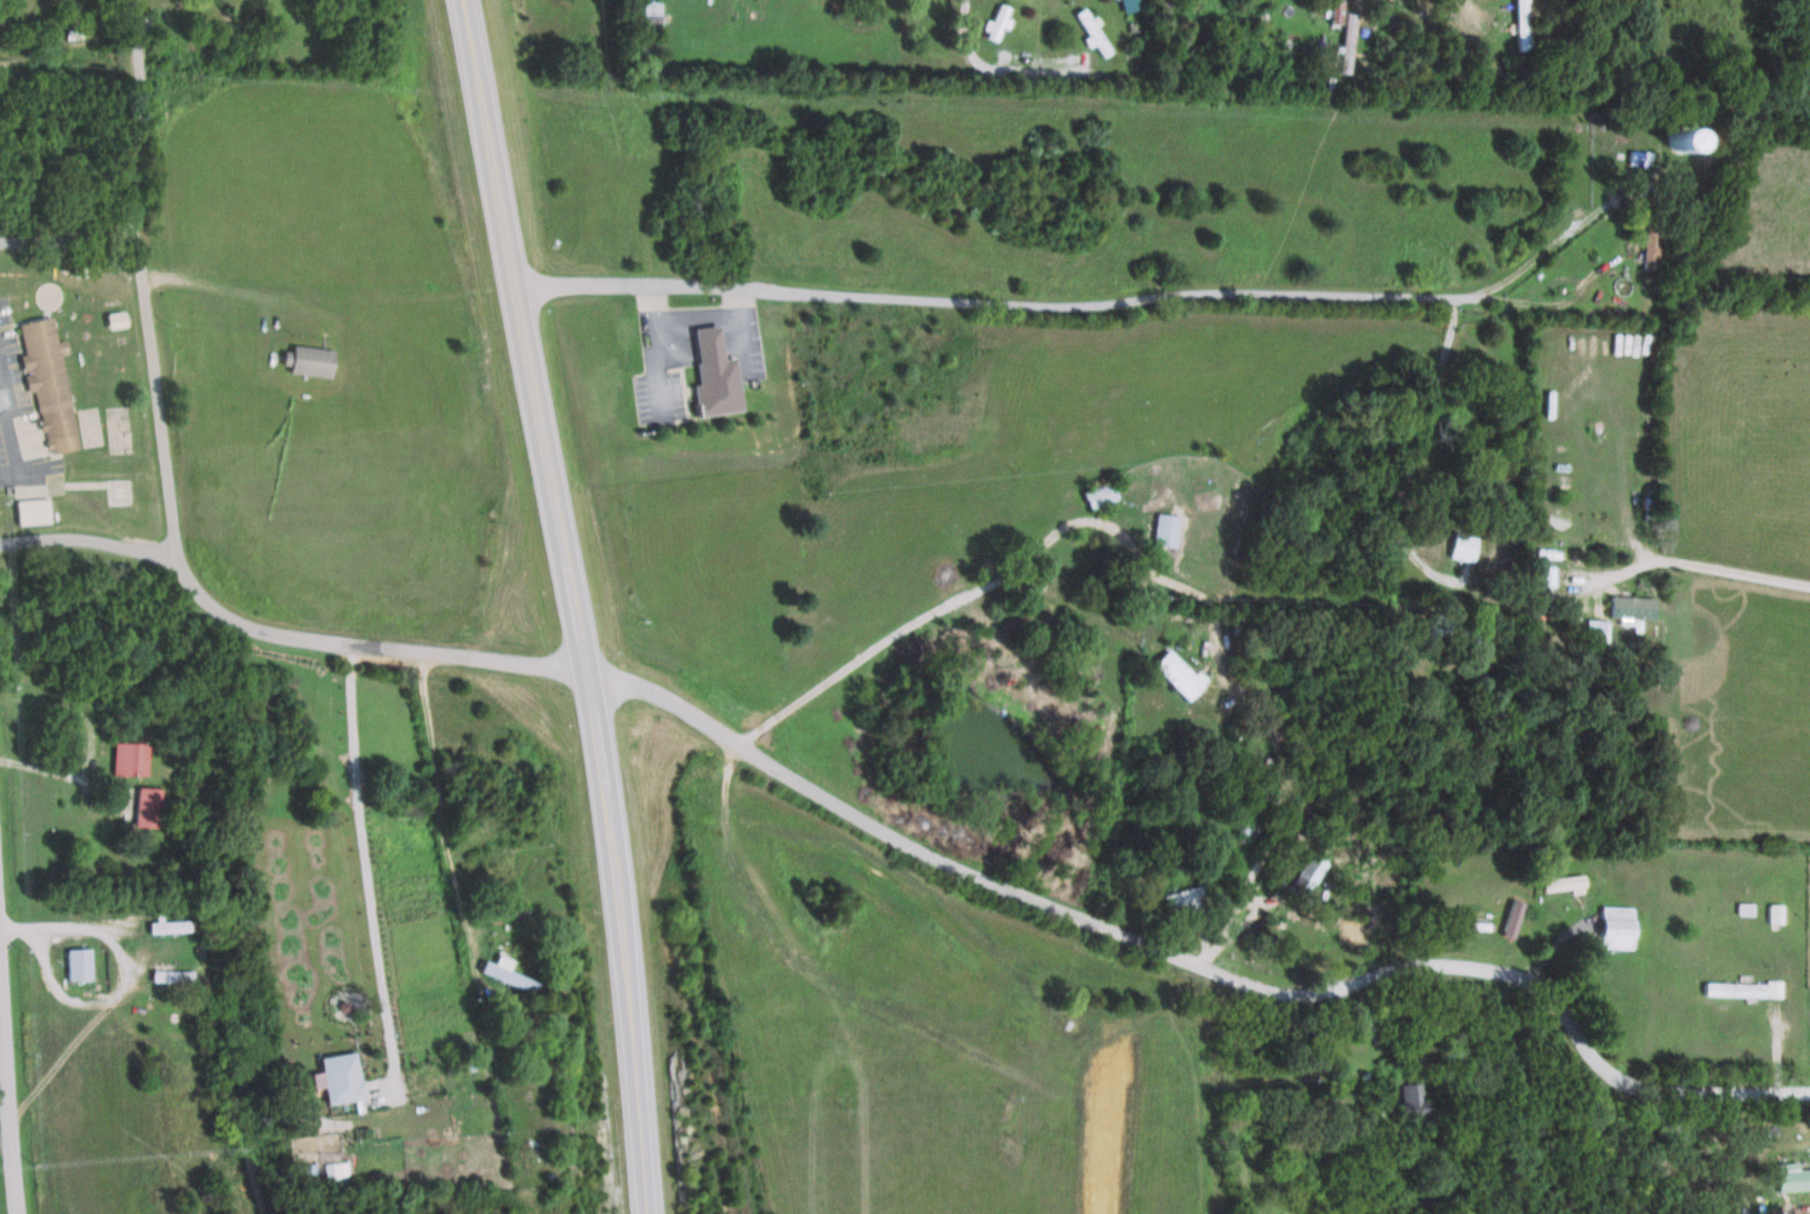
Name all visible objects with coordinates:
building: (1130, 4)
building: (650, 10)
building: (997, 21)
building: (1092, 30)
building: (1344, 33)
road: (1022, 65)
building: (1673, 137)
road: (1559, 234)
road: (69, 235)
building: (1645, 241)
road: (141, 280)
road: (1564, 300)
road: (993, 303)
building: (110, 318)
road: (650, 323)
park: (85, 346)
building: (303, 358)
building: (710, 374)
building: (45, 378)
helipad: (115, 491)
building: (1096, 494)
building: (24, 509)
building: (1161, 529)
road: (87, 538)
building: (1456, 546)
road: (1698, 565)
building: (1540, 575)
road: (569, 605)
building: (1626, 609)
building: (1444, 628)
building: (1589, 629)
building: (1172, 672)
building: (125, 757)
road: (435, 793)
building: (143, 807)
road: (988, 872)
building: (1308, 872)
building: (1558, 883)
building: (1184, 897)
building: (1738, 908)
building: (1769, 912)
building: (1506, 917)
building: (165, 925)
building: (1808, 925)
building: (1608, 927)
building: (74, 963)
building: (506, 973)
building: (169, 975)
building: (1726, 988)
building: (1363, 1025)
building: (337, 1077)
road: (7, 1094)
building: (1405, 1100)
building: (333, 1169)
building: (1786, 1176)

